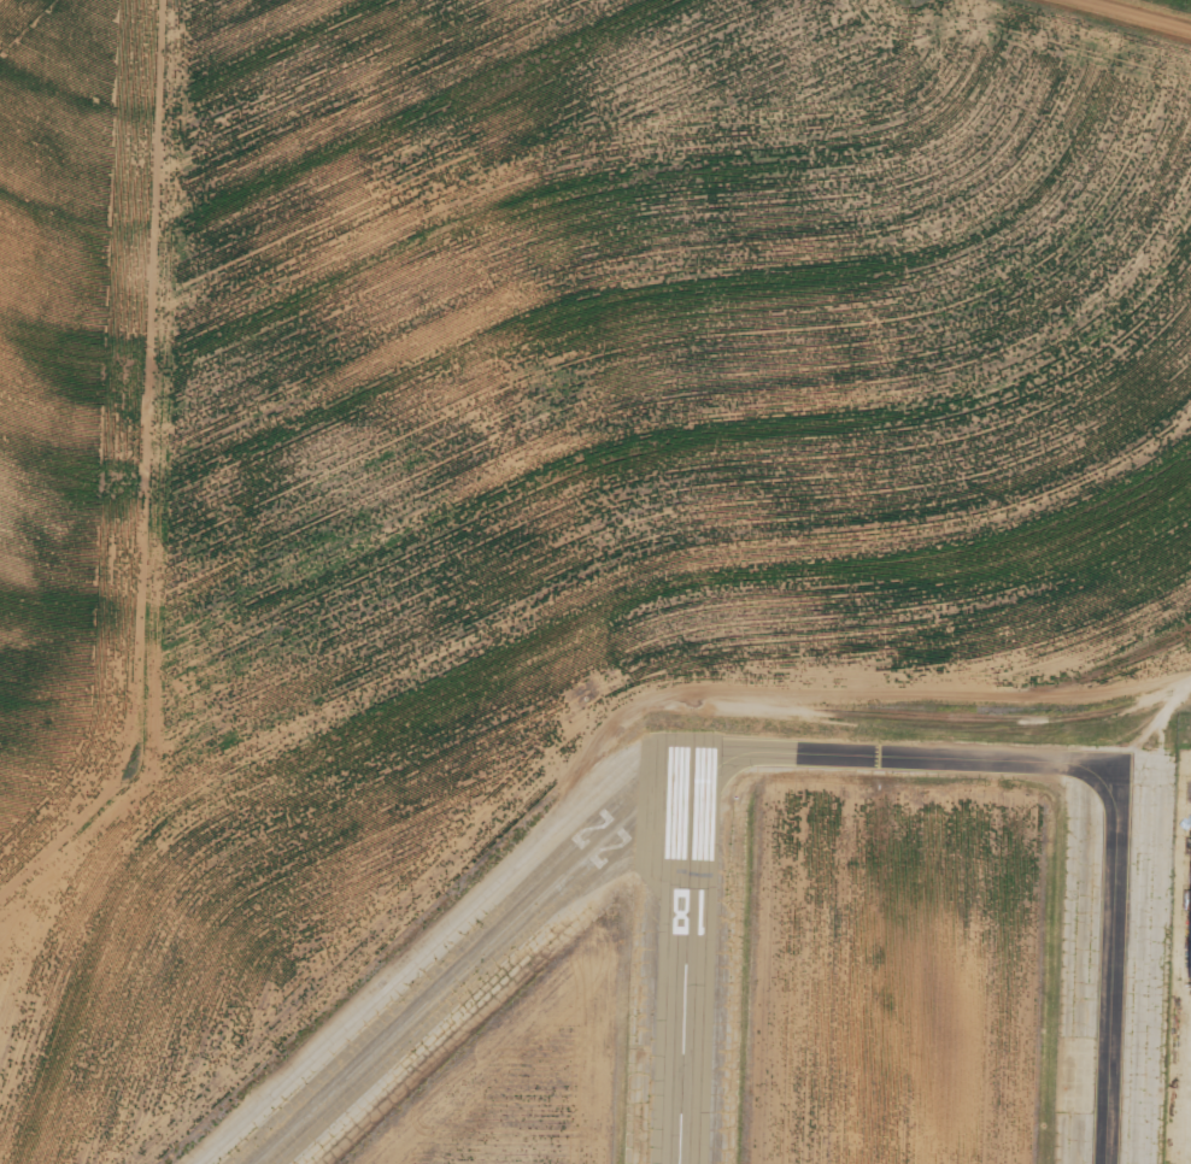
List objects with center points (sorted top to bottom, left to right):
road: (1130, 14)
airport: (595, 594)
road: (1172, 707)
airport taxiway: (1091, 770)
airport runway: (464, 954)
airport runway: (679, 954)
building: (1190, 956)
airport apron: (1144, 962)

